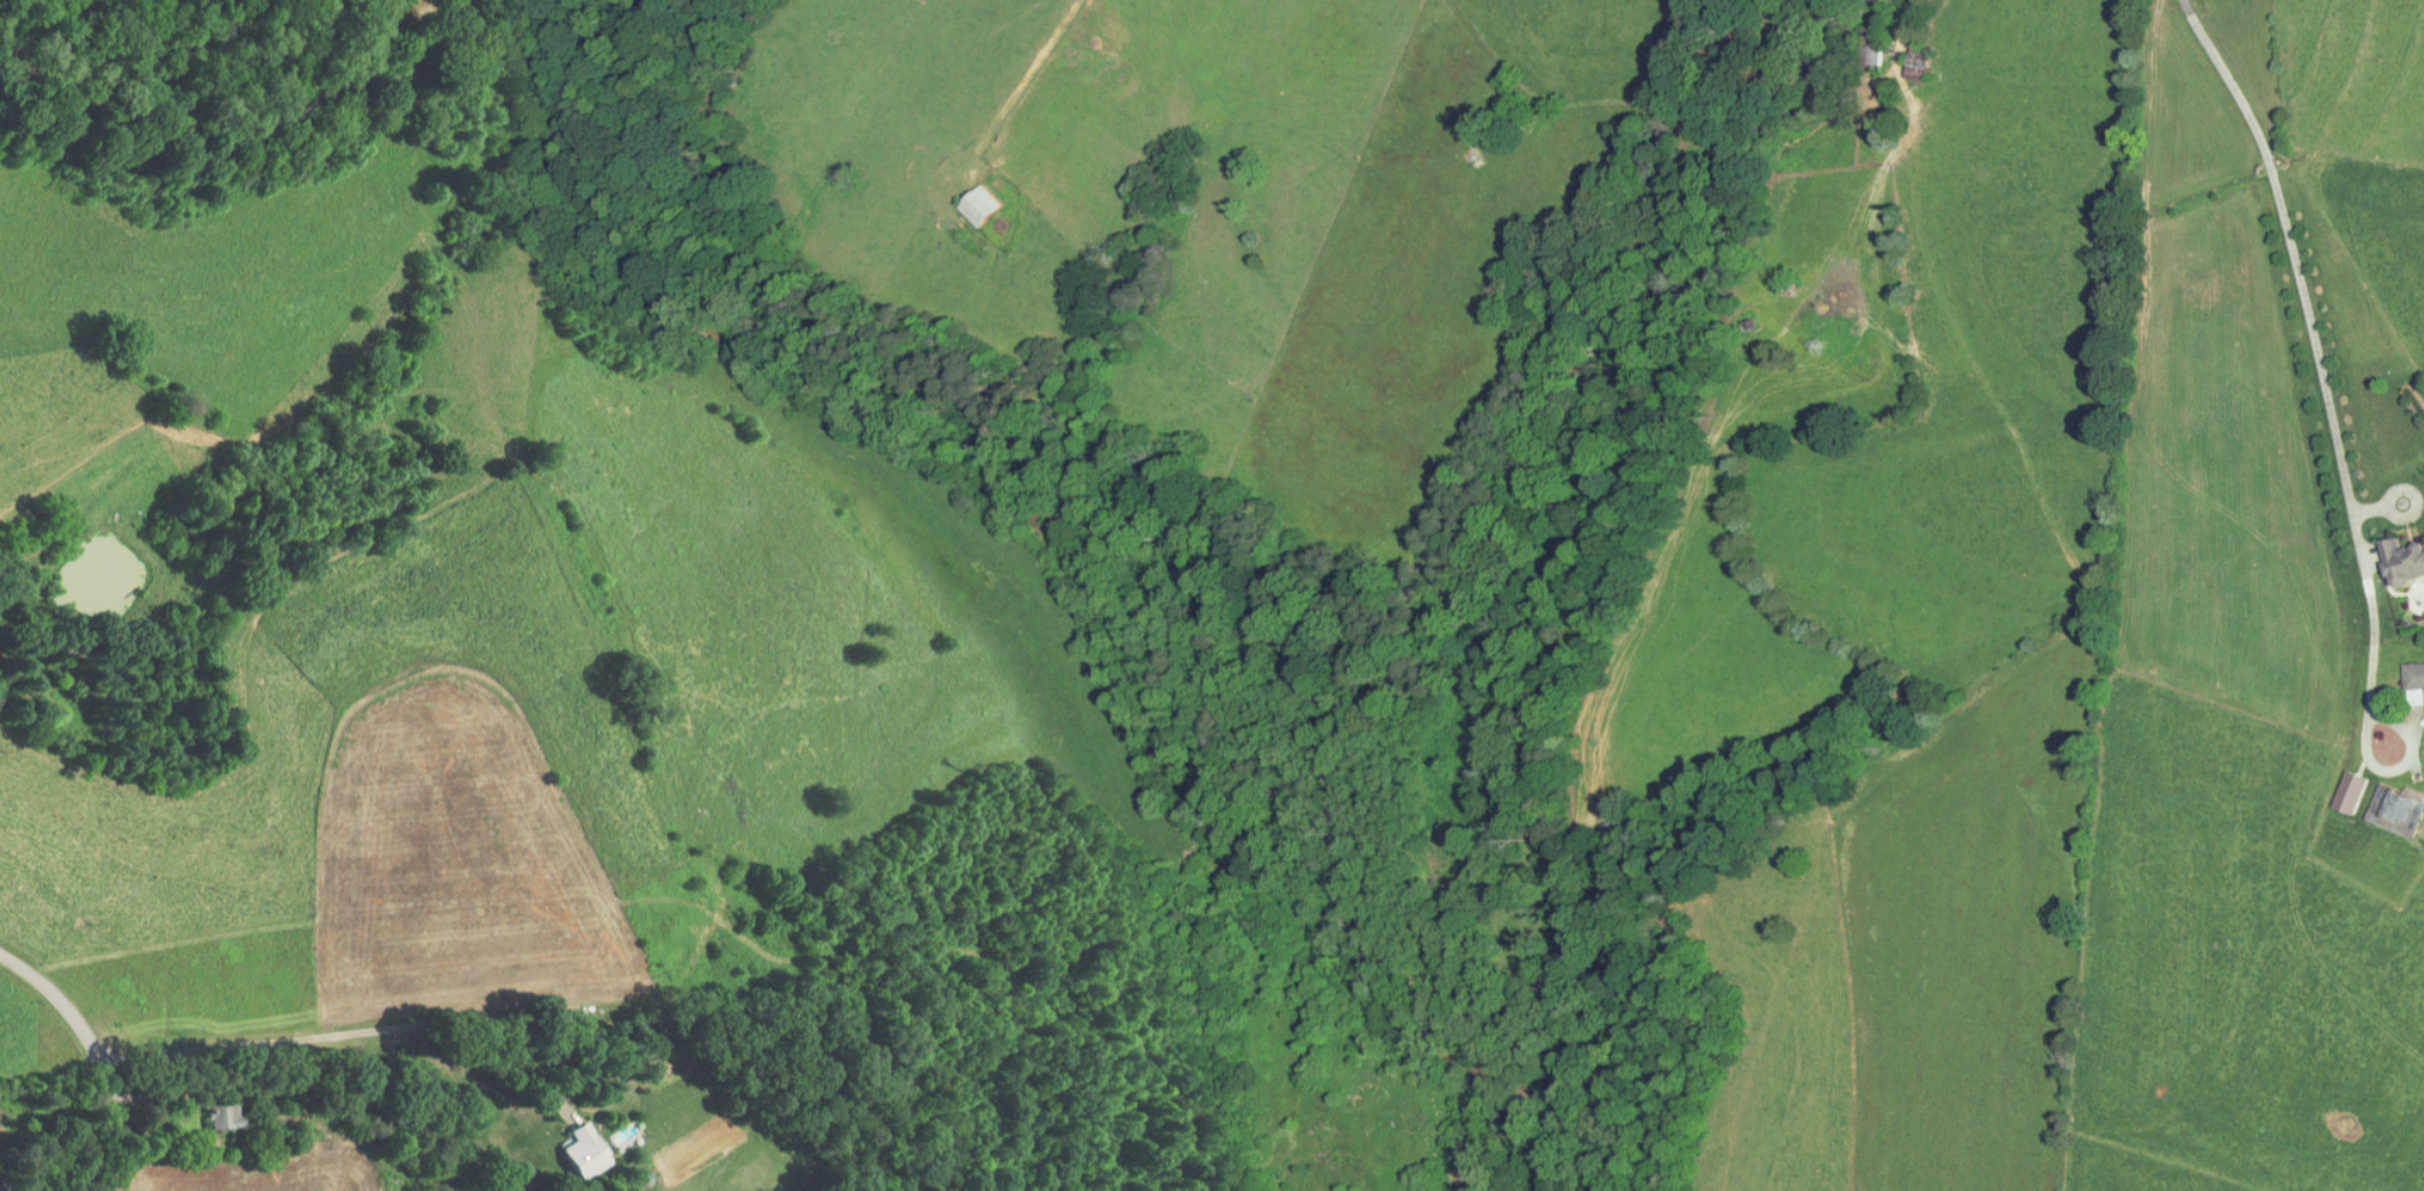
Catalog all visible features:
building: (980, 203)
road: (2317, 347)
building: (2404, 560)
building: (2414, 674)
building: (2351, 791)
building: (2397, 809)
road: (320, 1033)
road: (562, 1062)
building: (224, 1116)
building: (582, 1150)

